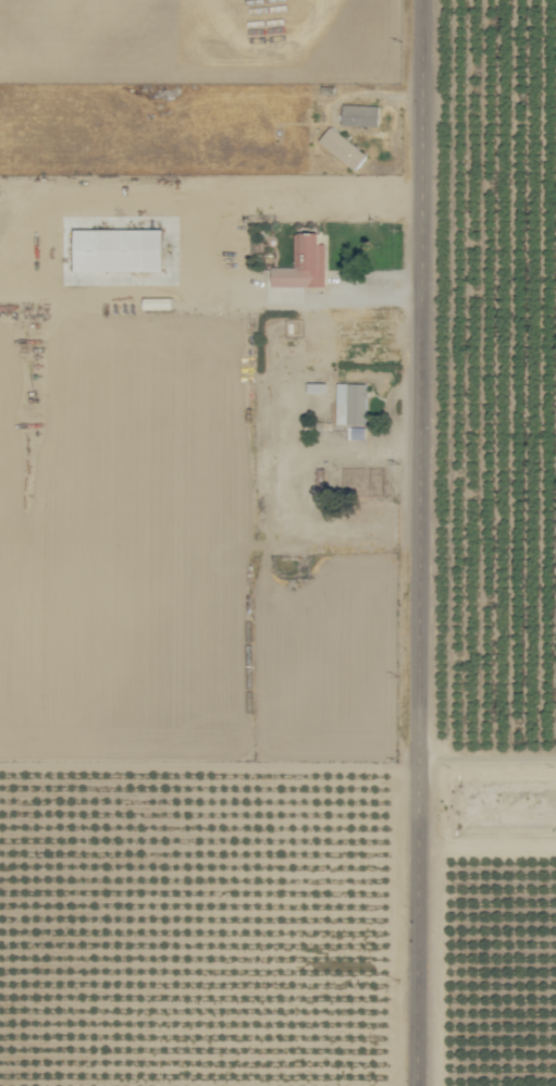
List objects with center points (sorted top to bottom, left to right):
building: (361, 113)
building: (343, 146)
road: (203, 233)
building: (119, 248)
building: (304, 261)
crop: (501, 397)
building: (351, 402)
building: (357, 430)
road: (430, 543)
road: (492, 755)

